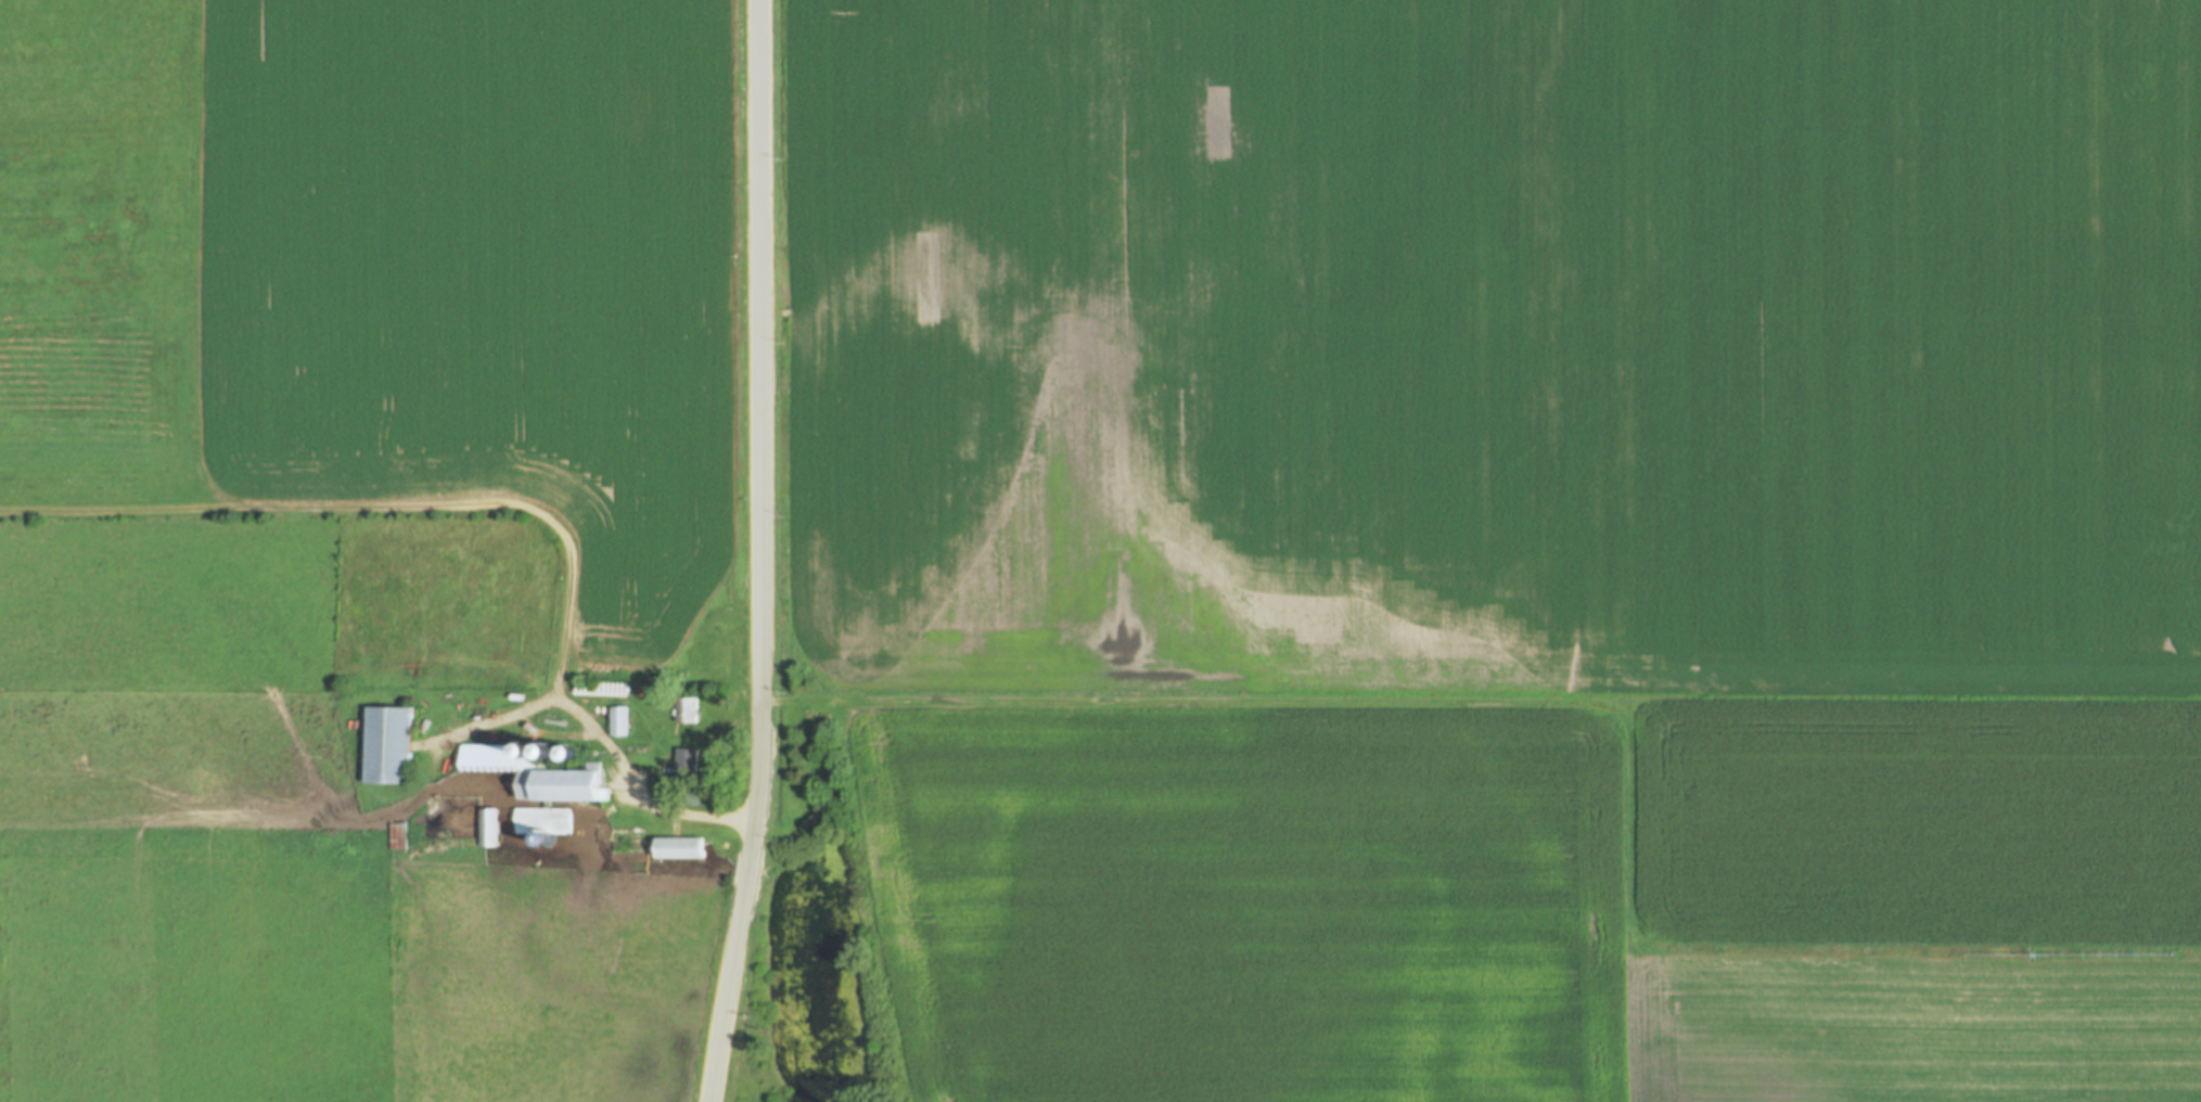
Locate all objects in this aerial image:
road: (510, 507)
road: (759, 552)
road: (1169, 700)
building: (687, 709)
building: (619, 721)
road: (450, 740)
building: (387, 744)
building: (688, 764)
building: (537, 773)
road: (666, 810)
building: (542, 821)
building: (490, 829)
building: (397, 835)
building: (630, 835)
building: (680, 849)

